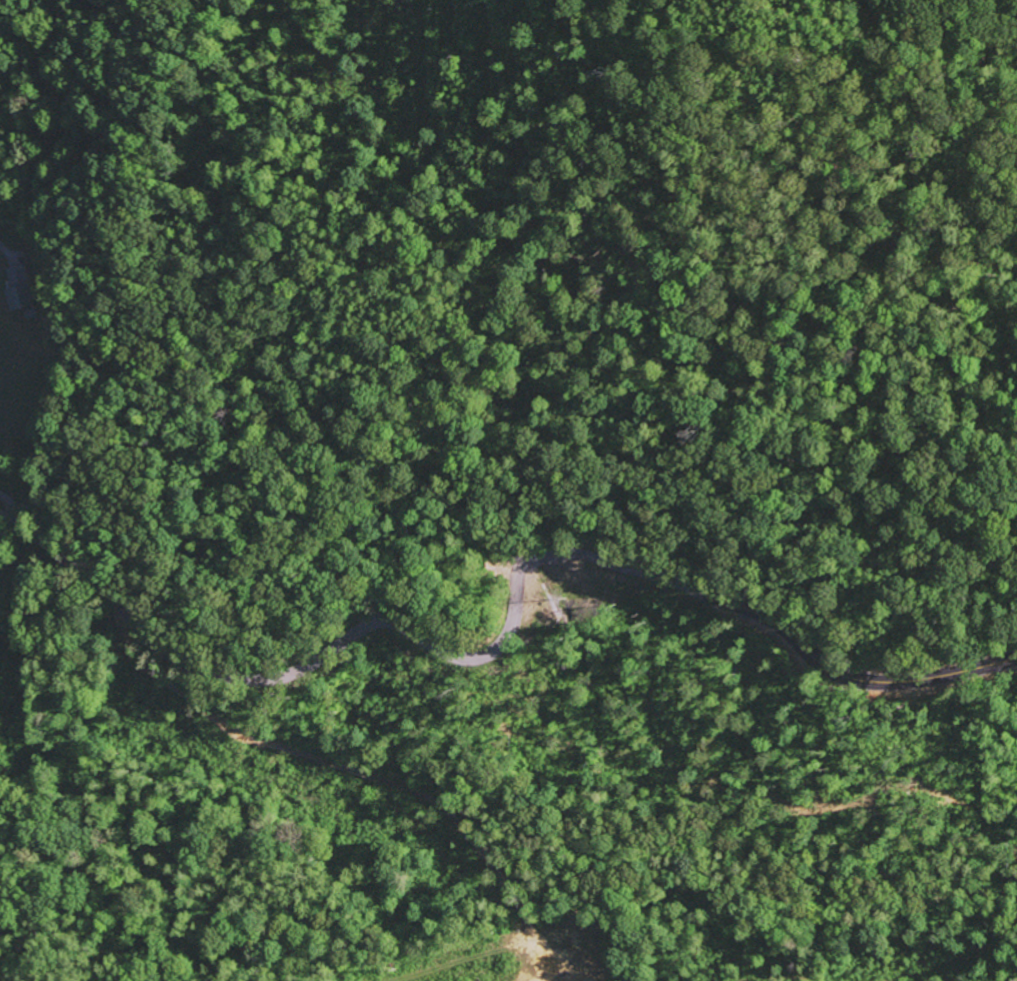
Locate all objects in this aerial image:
road: (511, 630)

